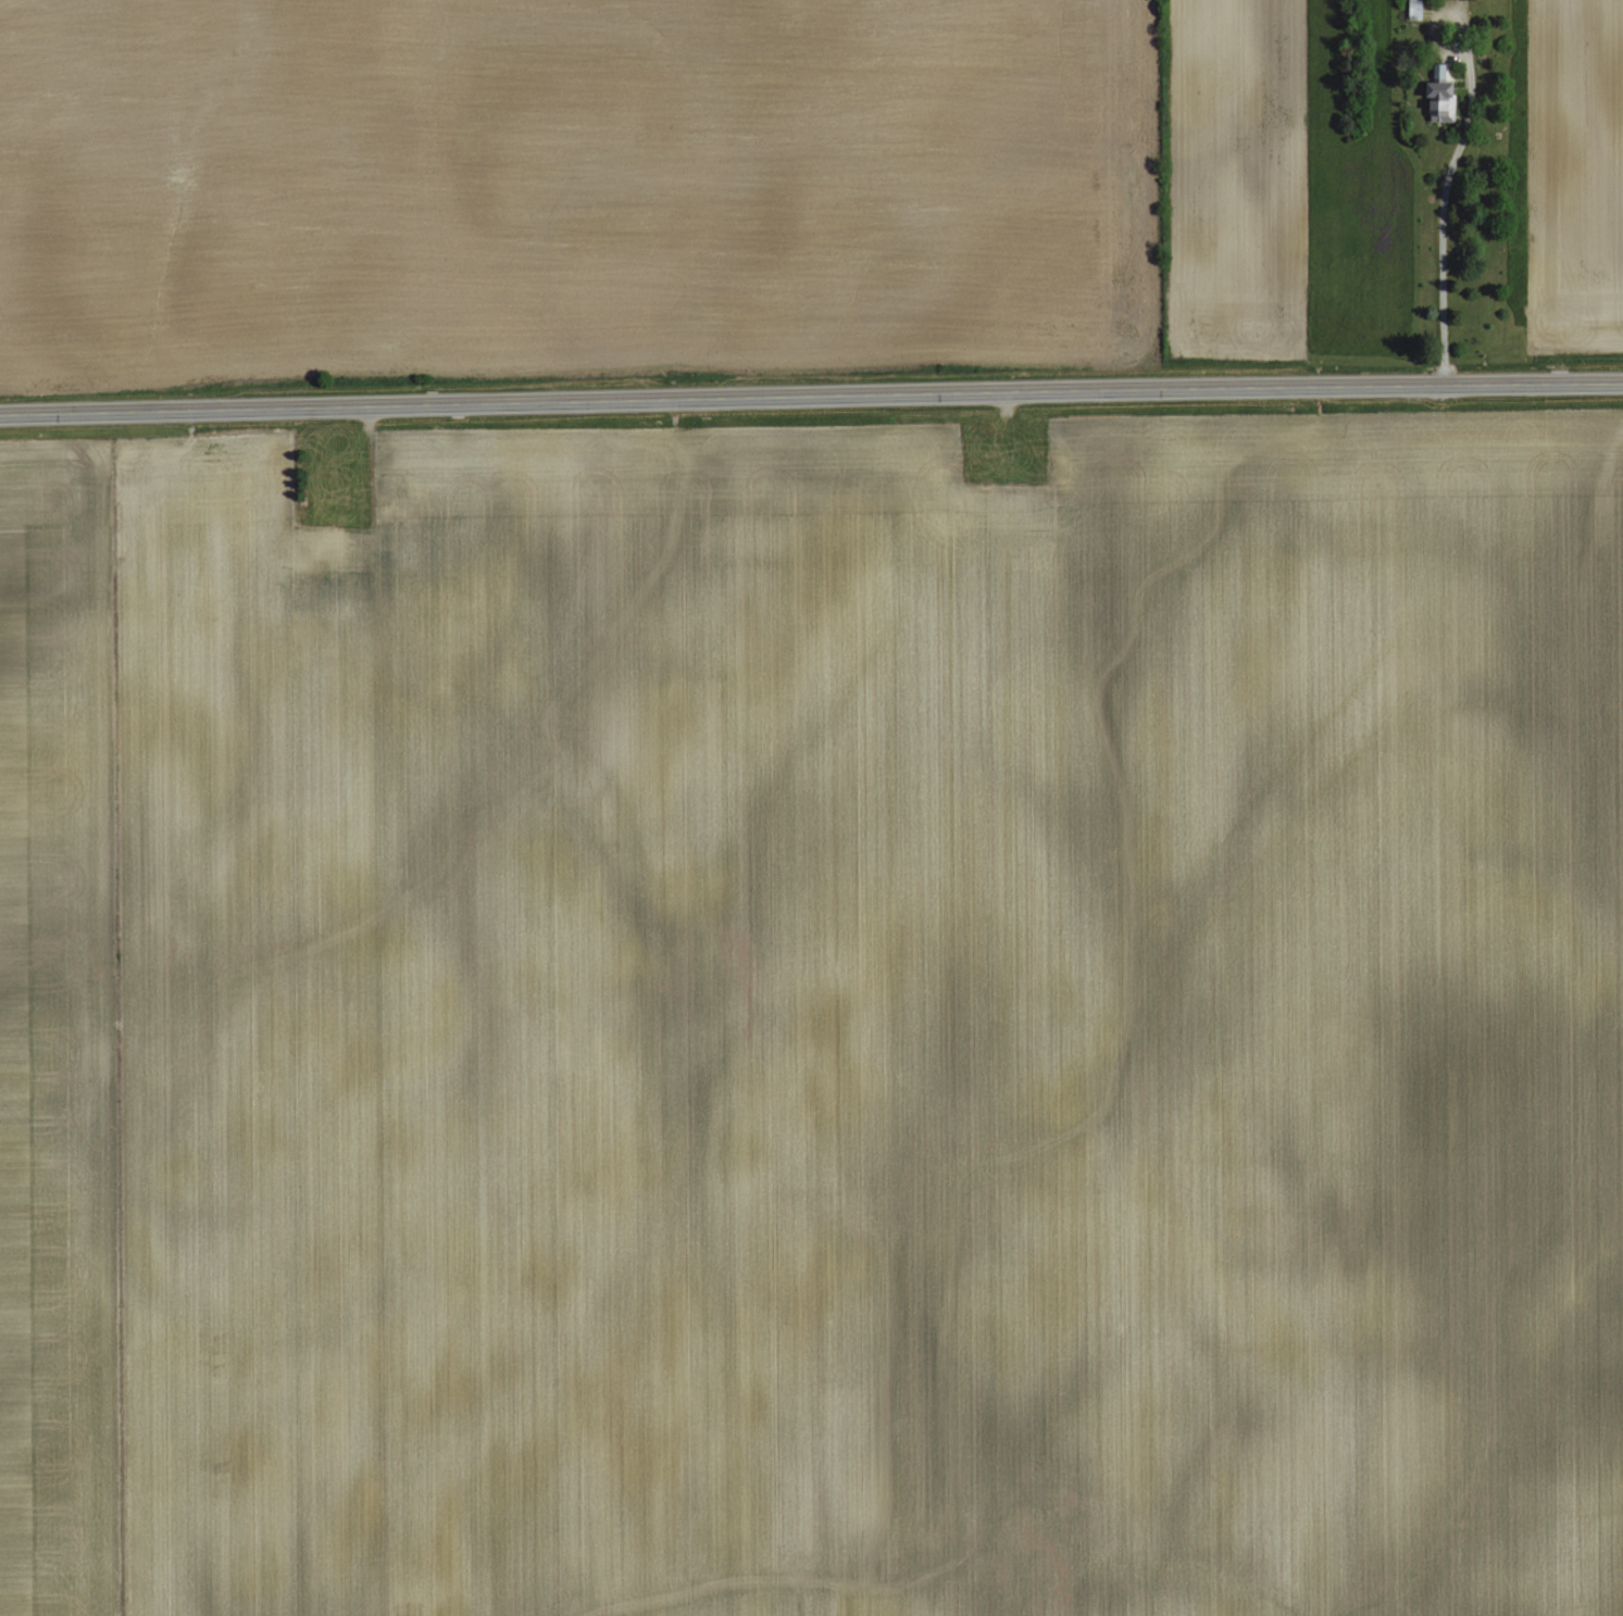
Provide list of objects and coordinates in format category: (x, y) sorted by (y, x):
building: (1415, 10)
road: (1437, 243)
road: (811, 398)

